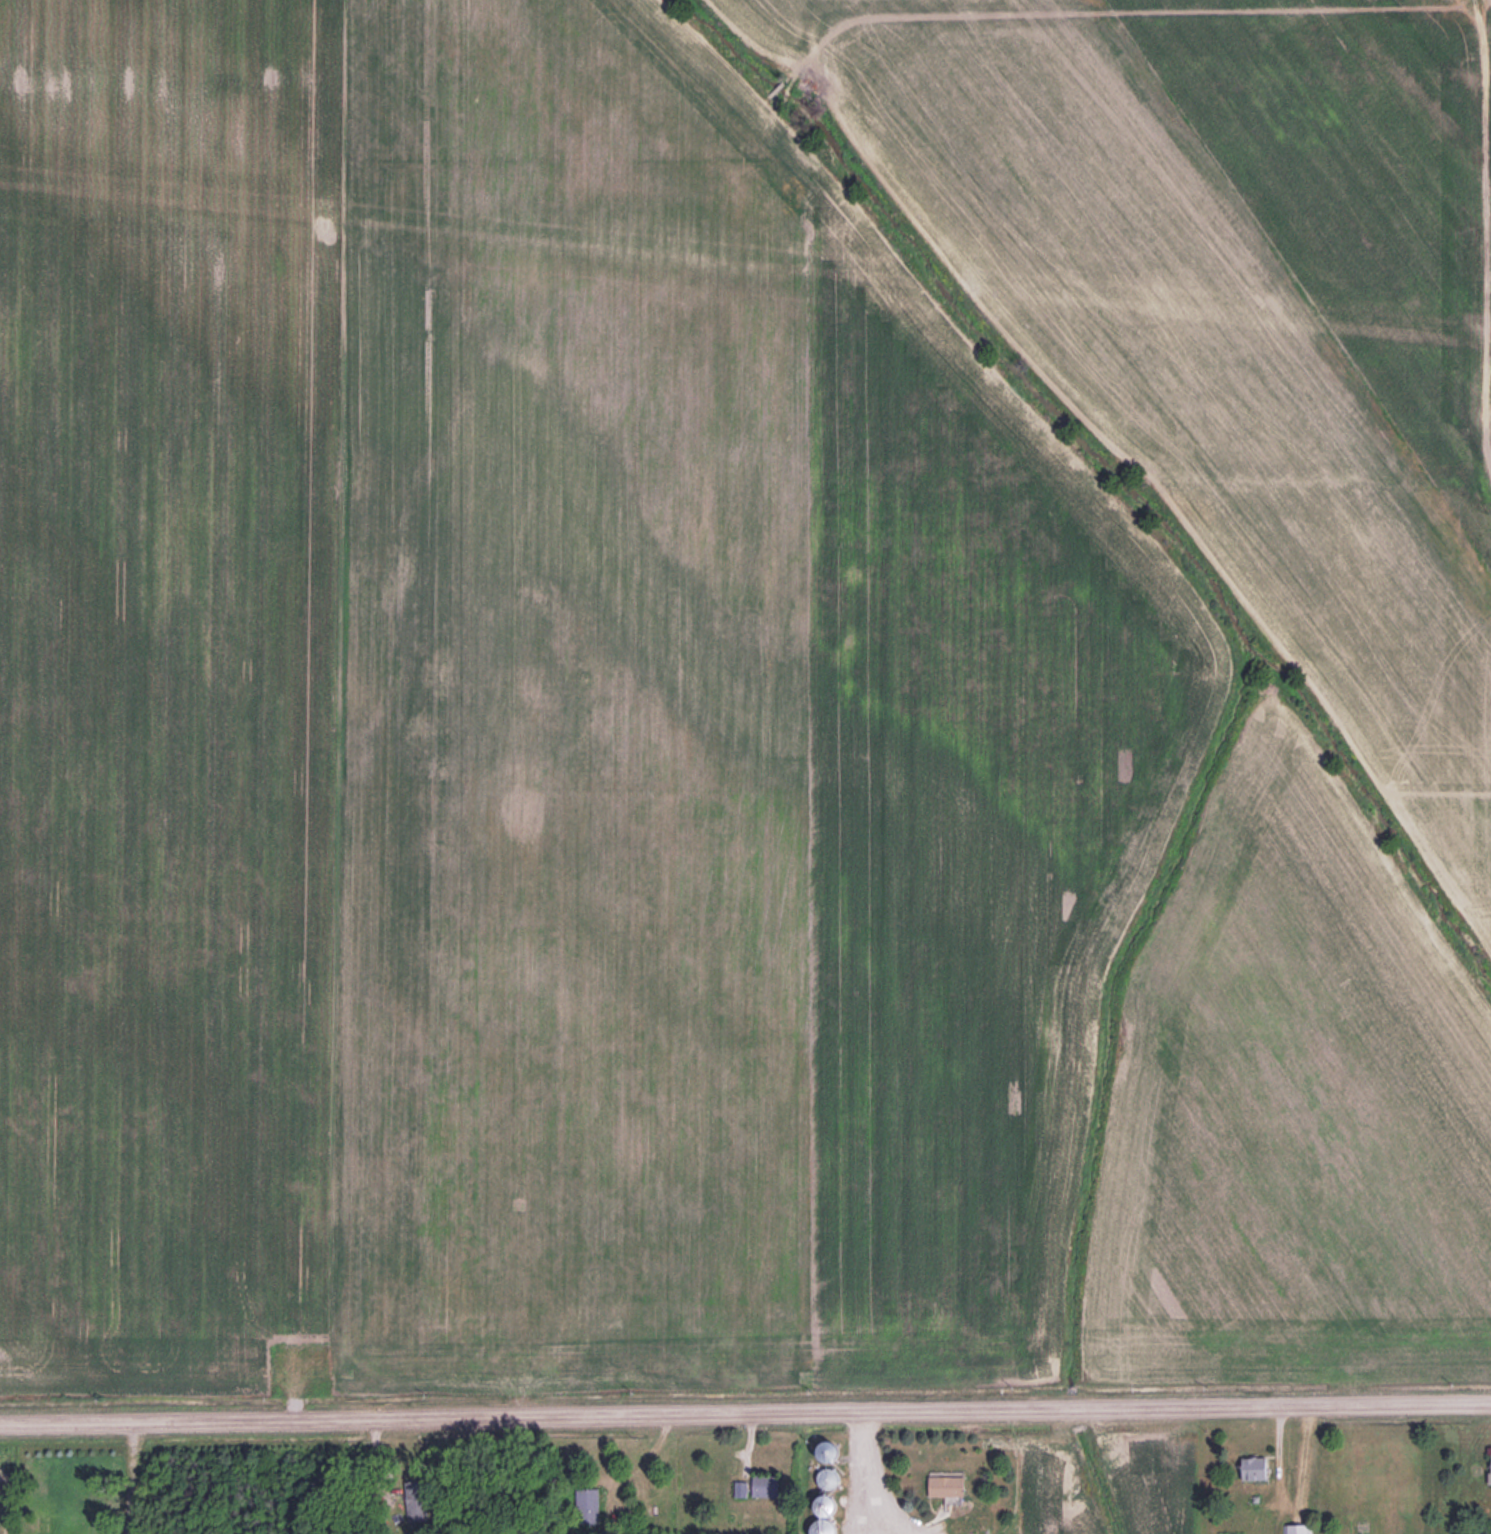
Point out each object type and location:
crop: (745, 693)
road: (745, 1414)
building: (828, 1451)
building: (1254, 1468)
building: (1490, 1469)
road: (866, 1473)
building: (828, 1479)
building: (765, 1487)
building: (947, 1487)
building: (741, 1490)
building: (415, 1501)
building: (827, 1506)
building: (588, 1507)
building: (41, 1524)
building: (824, 1528)
building: (1298, 1529)

